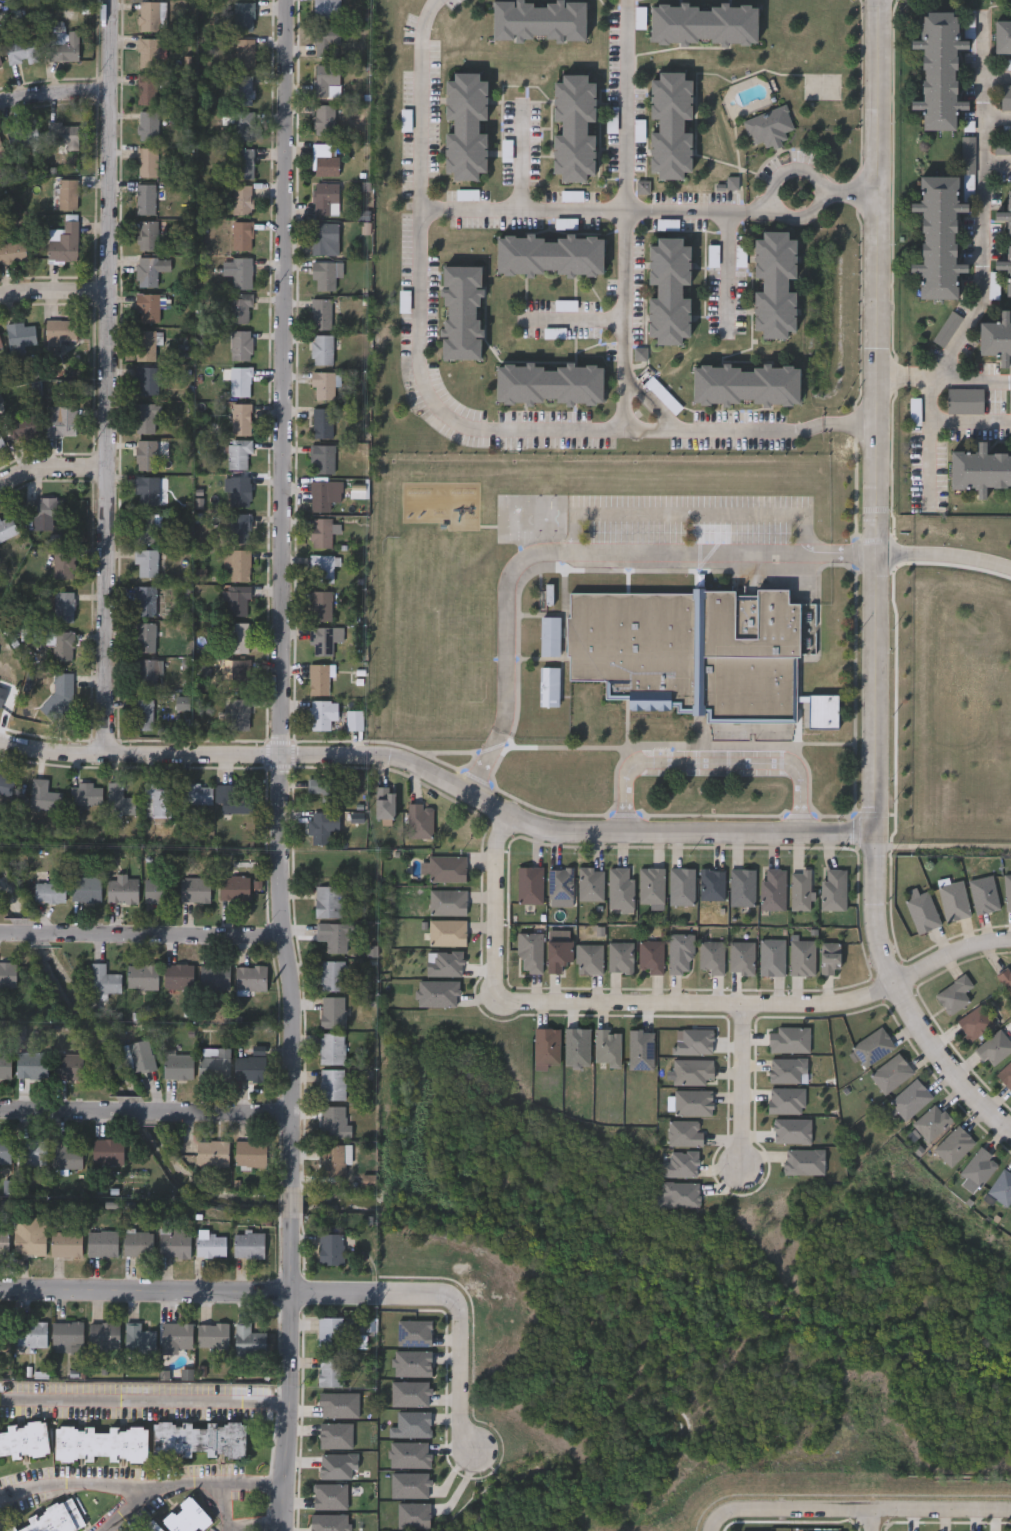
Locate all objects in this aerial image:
building: (325, 9)
building: (148, 16)
building: (243, 16)
building: (540, 21)
building: (704, 25)
building: (1003, 37)
building: (324, 39)
building: (62, 46)
building: (21, 52)
building: (148, 53)
building: (243, 54)
building: (0, 66)
building: (940, 69)
building: (324, 78)
road: (997, 78)
building: (242, 89)
building: (146, 90)
road: (54, 93)
building: (1006, 97)
road: (997, 117)
building: (324, 120)
building: (147, 126)
building: (241, 126)
building: (671, 126)
building: (466, 127)
building: (575, 128)
building: (771, 128)
building: (62, 135)
building: (23, 138)
building: (1, 152)
road: (522, 158)
building: (323, 160)
building: (146, 162)
building: (241, 163)
road: (997, 163)
road: (819, 184)
road: (847, 189)
building: (67, 195)
building: (325, 199)
building: (144, 200)
building: (240, 200)
road: (760, 205)
road: (983, 205)
road: (583, 214)
road: (626, 215)
building: (147, 236)
building: (240, 236)
building: (324, 239)
building: (939, 239)
building: (62, 243)
building: (1009, 243)
building: (12, 253)
building: (550, 256)
building: (148, 271)
road: (728, 272)
building: (240, 274)
building: (322, 277)
building: (775, 287)
building: (669, 292)
road: (54, 304)
building: (148, 306)
building: (238, 309)
building: (462, 313)
building: (320, 315)
road: (574, 320)
building: (59, 330)
building: (949, 331)
building: (555, 332)
building: (19, 335)
building: (996, 341)
building: (0, 345)
building: (144, 346)
building: (240, 346)
building: (321, 350)
road: (890, 376)
road: (919, 377)
road: (970, 378)
road: (108, 379)
building: (146, 381)
building: (239, 382)
building: (550, 385)
building: (323, 386)
building: (746, 386)
road: (429, 399)
building: (967, 402)
road: (872, 416)
building: (146, 419)
building: (240, 420)
road: (971, 421)
building: (60, 422)
road: (847, 422)
building: (322, 423)
building: (21, 428)
road: (931, 438)
building: (1, 444)
building: (237, 454)
building: (144, 455)
building: (321, 460)
road: (52, 469)
building: (980, 473)
building: (145, 490)
building: (239, 492)
building: (319, 496)
building: (47, 507)
road: (692, 511)
building: (6, 527)
building: (143, 528)
building: (238, 528)
parking lot: (688, 531)
building: (320, 533)
road: (891, 552)
road: (573, 555)
road: (962, 556)
building: (63, 563)
building: (145, 563)
building: (238, 565)
building: (321, 569)
road: (281, 592)
building: (144, 601)
building: (236, 601)
building: (320, 606)
building: (62, 607)
building: (465, 621)
building: (549, 635)
building: (144, 638)
building: (238, 638)
building: (320, 642)
building: (61, 644)
building: (465, 648)
building: (698, 656)
building: (465, 672)
building: (144, 673)
building: (237, 674)
building: (318, 679)
building: (548, 685)
building: (1, 692)
building: (465, 699)
building: (141, 714)
building: (237, 714)
building: (322, 714)
building: (353, 719)
building: (465, 725)
road: (138, 759)
road: (378, 760)
road: (713, 762)
building: (3, 784)
building: (325, 789)
building: (83, 793)
building: (194, 793)
building: (41, 795)
building: (116, 799)
building: (156, 799)
building: (230, 801)
building: (383, 801)
building: (419, 820)
building: (318, 827)
road: (665, 832)
building: (447, 868)
building: (590, 883)
building: (529, 884)
building: (711, 884)
building: (560, 885)
building: (651, 885)
building: (682, 885)
building: (742, 886)
building: (232, 887)
building: (84, 889)
building: (194, 889)
building: (620, 889)
building: (773, 889)
building: (833, 889)
building: (120, 890)
building: (156, 890)
building: (800, 890)
building: (47, 893)
building: (984, 894)
building: (327, 900)
building: (447, 901)
building: (954, 901)
building: (922, 912)
building: (447, 932)
building: (334, 934)
road: (168, 936)
road: (5, 937)
road: (31, 937)
building: (529, 952)
building: (681, 953)
building: (557, 954)
building: (651, 955)
building: (620, 956)
building: (712, 956)
building: (771, 956)
building: (741, 957)
building: (802, 957)
building: (589, 958)
building: (829, 958)
building: (7, 975)
building: (213, 975)
building: (332, 975)
building: (140, 976)
building: (176, 976)
building: (249, 977)
building: (102, 979)
building: (954, 993)
road: (901, 1000)
road: (666, 1005)
building: (332, 1011)
building: (976, 1021)
building: (788, 1038)
building: (545, 1044)
building: (872, 1045)
building: (606, 1047)
building: (994, 1047)
building: (331, 1048)
building: (140, 1055)
building: (30, 1065)
building: (65, 1065)
building: (214, 1065)
building: (4, 1066)
building: (176, 1066)
building: (248, 1068)
building: (692, 1071)
building: (890, 1072)
building: (331, 1083)
road: (744, 1090)
building: (909, 1098)
building: (692, 1102)
road: (53, 1114)
road: (133, 1115)
road: (225, 1115)
building: (333, 1121)
building: (931, 1122)
building: (684, 1132)
building: (953, 1145)
building: (29, 1152)
building: (106, 1152)
building: (210, 1153)
building: (248, 1153)
building: (64, 1155)
building: (331, 1159)
building: (976, 1169)
building: (1001, 1187)
road: (290, 1203)
building: (3, 1240)
building: (63, 1240)
building: (27, 1242)
building: (100, 1243)
building: (136, 1244)
building: (172, 1244)
building: (208, 1245)
building: (246, 1245)
building: (329, 1249)
road: (305, 1294)
building: (329, 1332)
building: (29, 1334)
building: (174, 1335)
building: (210, 1335)
building: (65, 1336)
building: (102, 1336)
building: (3, 1337)
building: (138, 1339)
building: (247, 1340)
building: (329, 1370)
road: (287, 1377)
road: (143, 1393)
building: (199, 1438)
building: (24, 1439)
building: (101, 1443)
building: (336, 1465)
road: (141, 1486)
road: (128, 1508)
road: (865, 1509)
building: (187, 1517)
building: (53, 1519)
road: (872, 1520)
road: (714, 1521)
building: (150, 1526)
road: (261, 1529)

